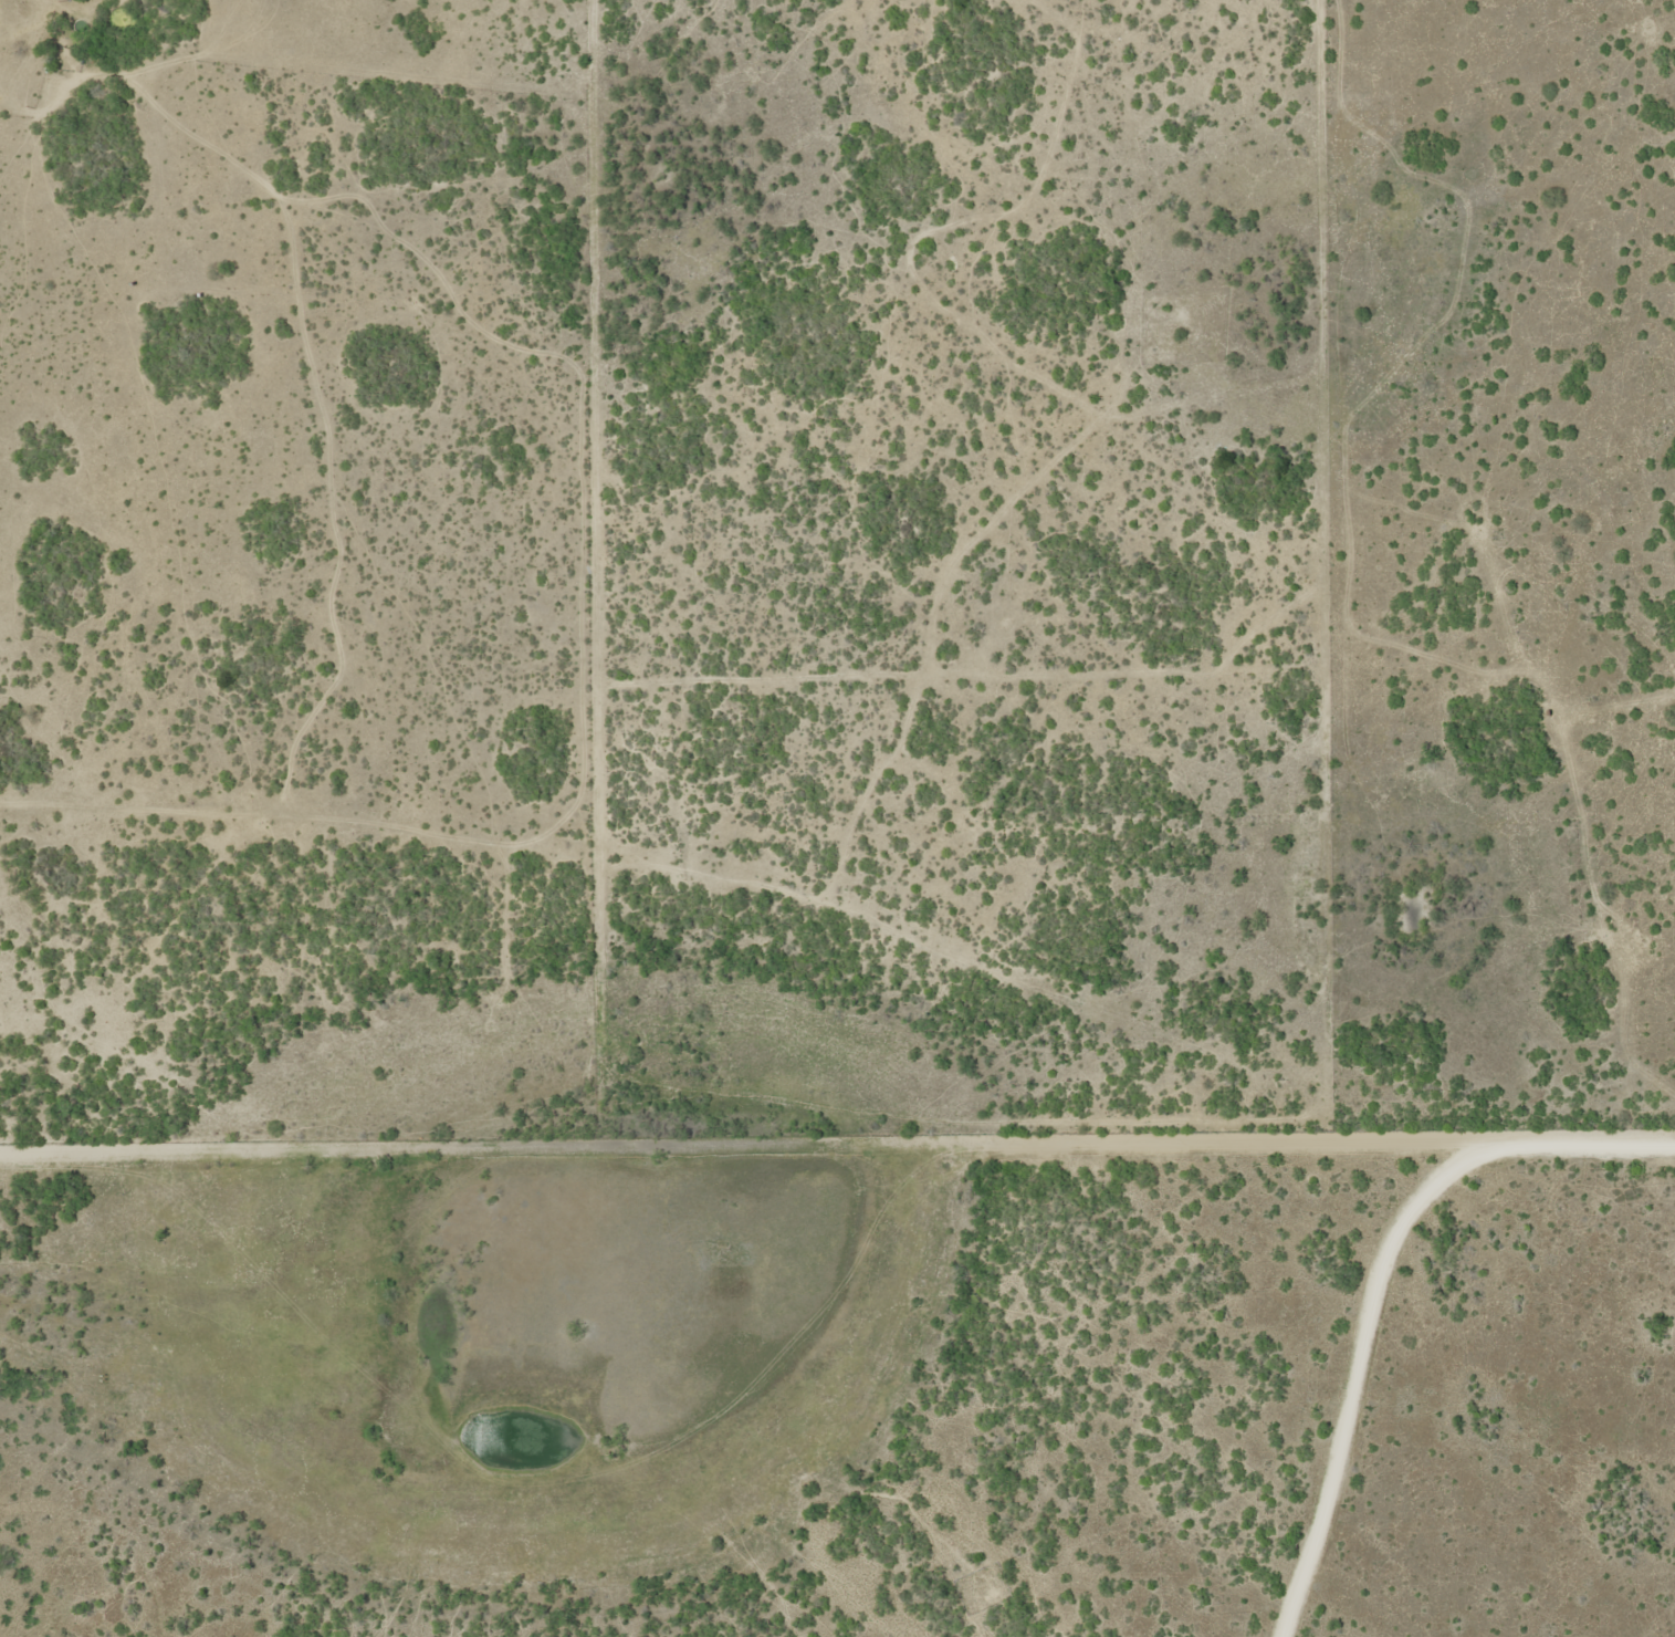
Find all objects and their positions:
road: (1378, 1282)

